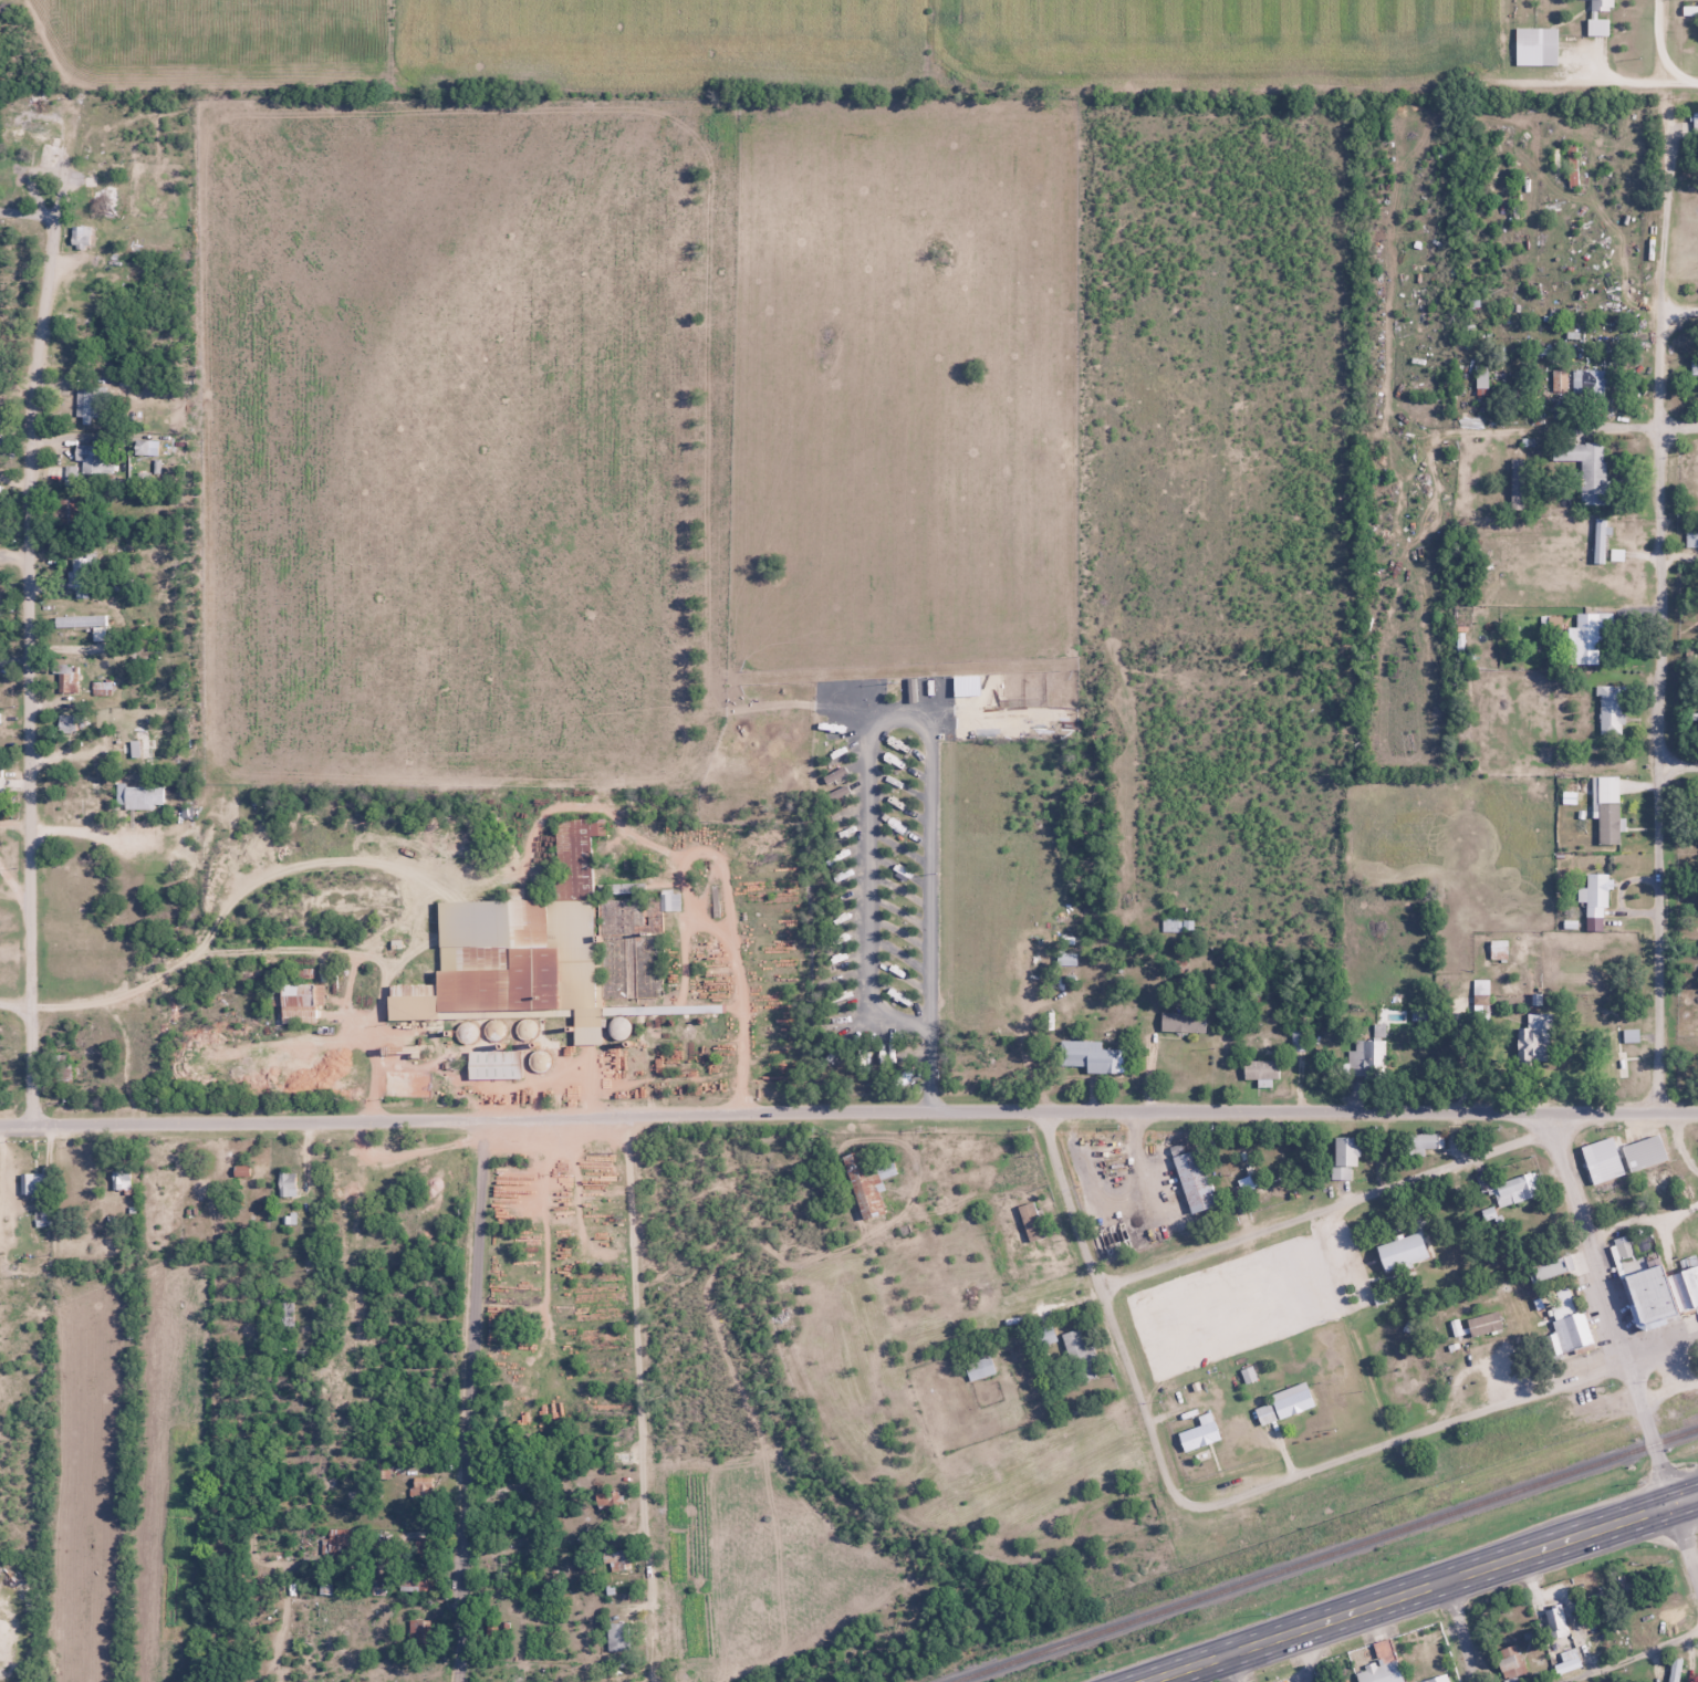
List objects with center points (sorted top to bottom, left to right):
building: (1600, 4)
building: (1596, 27)
road: (1670, 43)
building: (1535, 45)
building: (1695, 129)
building: (27, 135)
building: (103, 195)
building: (80, 237)
building: (64, 345)
building: (1694, 365)
building: (1559, 383)
building: (1590, 383)
building: (88, 404)
road: (1680, 428)
building: (92, 459)
building: (1586, 468)
building: (74, 512)
building: (1603, 542)
road: (1664, 617)
building: (80, 620)
road: (33, 641)
building: (1583, 646)
building: (1610, 711)
building: (143, 745)
road: (1679, 766)
building: (139, 796)
building: (1607, 811)
building: (1594, 896)
building: (669, 901)
building: (1176, 924)
building: (537, 949)
building: (1480, 986)
building: (299, 1002)
road: (15, 1006)
building: (1181, 1022)
building: (1534, 1037)
building: (1299, 1040)
building: (1091, 1055)
building: (1367, 1057)
building: (1613, 1058)
building: (1260, 1068)
road: (848, 1111)
building: (1423, 1142)
building: (1643, 1152)
building: (1343, 1157)
building: (1601, 1159)
building: (887, 1169)
building: (1191, 1179)
building: (287, 1181)
building: (35, 1182)
building: (862, 1189)
building: (1511, 1190)
road: (1331, 1208)
building: (1029, 1220)
building: (1008, 1260)
building: (1658, 1287)
road: (1111, 1306)
road: (1613, 1308)
building: (1571, 1321)
building: (1482, 1323)
building: (1043, 1336)
building: (1080, 1356)
building: (979, 1367)
road: (473, 1386)
railway: (1686, 1394)
road: (639, 1399)
building: (1284, 1403)
road: (1437, 1427)
road: (1685, 1543)
railway: (1322, 1554)
building: (617, 1560)
road: (1421, 1588)
building: (1555, 1620)
road: (1462, 1631)
building: (617, 1637)
road: (1627, 1657)
building: (1510, 1661)
building: (1381, 1664)
road: (1233, 1668)
building: (1675, 1670)

